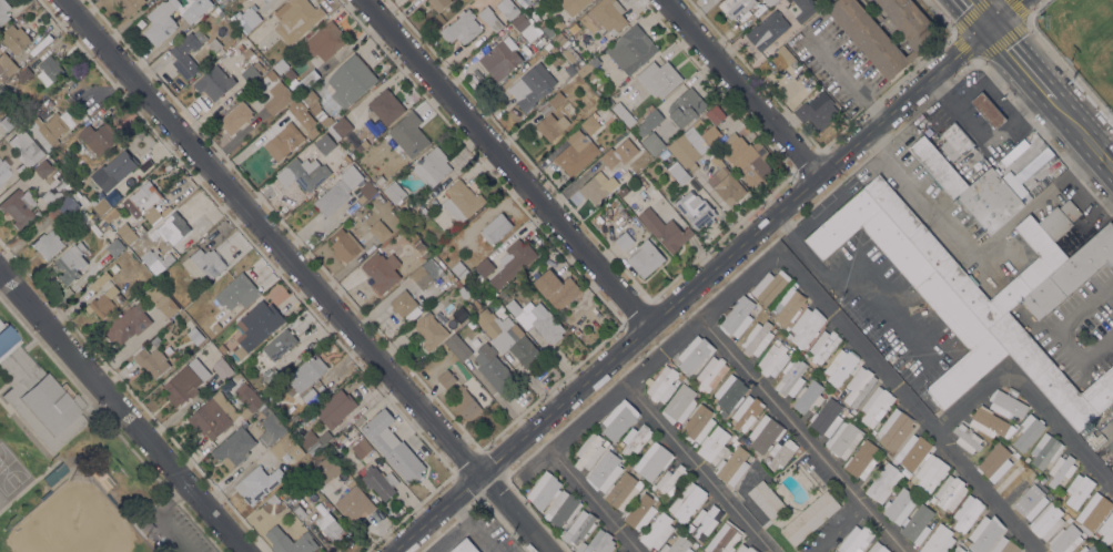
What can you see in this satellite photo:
building: (263, 0)
building: (788, 1)
building: (769, 2)
building: (437, 3)
building: (130, 6)
building: (573, 6)
building: (735, 7)
building: (805, 9)
building: (509, 10)
building: (3, 11)
road: (979, 11)
building: (191, 13)
building: (605, 17)
building: (249, 18)
building: (489, 19)
building: (296, 20)
building: (161, 21)
building: (558, 24)
building: (526, 27)
building: (545, 27)
building: (462, 28)
building: (768, 30)
building: (869, 37)
building: (559, 38)
building: (14, 39)
building: (325, 40)
building: (540, 41)
building: (631, 50)
building: (569, 53)
building: (186, 55)
building: (787, 55)
building: (500, 59)
road: (1021, 60)
building: (7, 64)
building: (280, 65)
building: (588, 65)
building: (51, 67)
building: (569, 70)
building: (23, 73)
building: (251, 73)
road: (843, 75)
building: (659, 78)
building: (300, 79)
building: (350, 81)
building: (214, 82)
building: (596, 84)
building: (532, 86)
road: (740, 86)
building: (1, 90)
building: (277, 98)
building: (50, 103)
building: (330, 105)
building: (386, 106)
building: (650, 108)
building: (686, 108)
building: (296, 109)
building: (818, 110)
building: (988, 110)
building: (624, 113)
building: (716, 114)
building: (80, 115)
building: (235, 116)
building: (322, 117)
building: (552, 117)
building: (7, 121)
building: (27, 121)
building: (649, 122)
building: (697, 123)
building: (590, 124)
building: (342, 126)
building: (48, 130)
road: (1083, 131)
building: (408, 134)
building: (710, 134)
building: (99, 137)
building: (286, 137)
building: (954, 141)
building: (325, 142)
building: (652, 143)
building: (361, 144)
building: (26, 147)
building: (688, 147)
building: (577, 152)
building: (665, 153)
building: (743, 157)
building: (609, 159)
road: (504, 161)
building: (119, 166)
building: (433, 166)
building: (937, 166)
building: (43, 167)
building: (3, 171)
building: (678, 172)
building: (304, 173)
building: (626, 177)
building: (125, 181)
building: (726, 184)
building: (598, 187)
building: (61, 188)
building: (338, 191)
building: (623, 191)
building: (366, 192)
building: (395, 192)
building: (77, 194)
building: (49, 196)
building: (994, 198)
building: (462, 201)
building: (142, 203)
building: (102, 205)
building: (63, 208)
building: (16, 209)
building: (696, 209)
building: (424, 212)
building: (37, 213)
building: (110, 215)
building: (910, 225)
building: (94, 228)
building: (171, 228)
building: (496, 228)
building: (380, 229)
building: (665, 229)
building: (127, 233)
building: (624, 241)
building: (47, 245)
building: (345, 245)
building: (115, 247)
road: (974, 248)
building: (425, 252)
building: (646, 258)
building: (155, 260)
building: (513, 262)
building: (71, 263)
road: (762, 263)
building: (203, 265)
building: (484, 267)
building: (382, 269)
building: (1038, 270)
building: (461, 272)
building: (1071, 272)
building: (425, 273)
road: (304, 275)
road: (701, 276)
road: (858, 276)
building: (99, 280)
building: (769, 286)
building: (557, 288)
building: (462, 289)
building: (237, 292)
building: (489, 296)
building: (162, 299)
building: (105, 301)
building: (403, 304)
building: (947, 304)
building: (476, 305)
building: (788, 305)
building: (514, 307)
building: (738, 317)
building: (471, 323)
building: (128, 324)
building: (546, 324)
building: (215, 326)
building: (256, 326)
building: (806, 326)
building: (788, 328)
building: (429, 330)
building: (577, 331)
building: (194, 335)
building: (508, 337)
road: (1056, 337)
building: (757, 338)
building: (280, 344)
building: (459, 345)
building: (823, 346)
building: (222, 349)
building: (695, 354)
building: (771, 357)
building: (151, 361)
building: (839, 367)
building: (222, 368)
building: (493, 368)
building: (711, 372)
building: (271, 374)
building: (1053, 374)
building: (234, 377)
building: (790, 377)
building: (305, 378)
building: (446, 378)
building: (185, 381)
building: (662, 385)
building: (859, 386)
road: (1028, 391)
building: (730, 392)
building: (38, 396)
building: (247, 397)
building: (809, 397)
building: (466, 403)
building: (680, 403)
building: (928, 403)
building: (1006, 405)
building: (876, 406)
building: (306, 408)
building: (335, 408)
building: (264, 410)
road: (121, 411)
building: (747, 412)
building: (722, 413)
building: (846, 415)
building: (213, 416)
building: (618, 420)
building: (988, 421)
building: (698, 423)
building: (836, 428)
building: (896, 428)
building: (271, 430)
building: (1028, 430)
building: (766, 432)
road: (803, 435)
building: (341, 437)
building: (967, 438)
building: (636, 439)
building: (314, 440)
building: (733, 440)
building: (235, 444)
building: (714, 444)
building: (392, 446)
building: (286, 447)
building: (361, 448)
building: (589, 450)
building: (1045, 450)
building: (781, 452)
building: (766, 459)
building: (863, 459)
building: (652, 461)
building: (994, 462)
building: (934, 463)
building: (732, 466)
road: (699, 467)
building: (326, 468)
park: (72, 469)
building: (1060, 469)
park: (10, 471)
building: (605, 471)
building: (904, 471)
building: (380, 481)
building: (669, 481)
building: (883, 482)
building: (257, 483)
building: (1042, 483)
building: (1018, 485)
building: (624, 489)
building: (524, 490)
building: (544, 490)
building: (1079, 490)
building: (950, 492)
building: (766, 498)
building: (273, 499)
building: (687, 501)
building: (1030, 501)
building: (354, 503)
building: (899, 505)
building: (563, 509)
building: (299, 511)
building: (640, 511)
building: (1093, 511)
building: (967, 513)
road: (160, 518)
building: (810, 518)
building: (1066, 518)
building: (1046, 521)
building: (704, 522)
road: (475, 524)
building: (917, 524)
building: (330, 527)
building: (579, 527)
building: (680, 528)
road: (839, 529)
building: (1105, 529)
building: (657, 531)
building: (985, 533)
road: (452, 535)
building: (724, 538)
building: (856, 539)
building: (1065, 539)
building: (938, 540)
building: (290, 541)
building: (600, 542)
building: (677, 545)
building: (1004, 545)
building: (464, 546)
building: (580, 546)
building: (878, 548)
building: (746, 549)
building: (959, 549)
building: (1089, 549)
building: (697, 550)
building: (615, 551)
building: (1102, 551)

